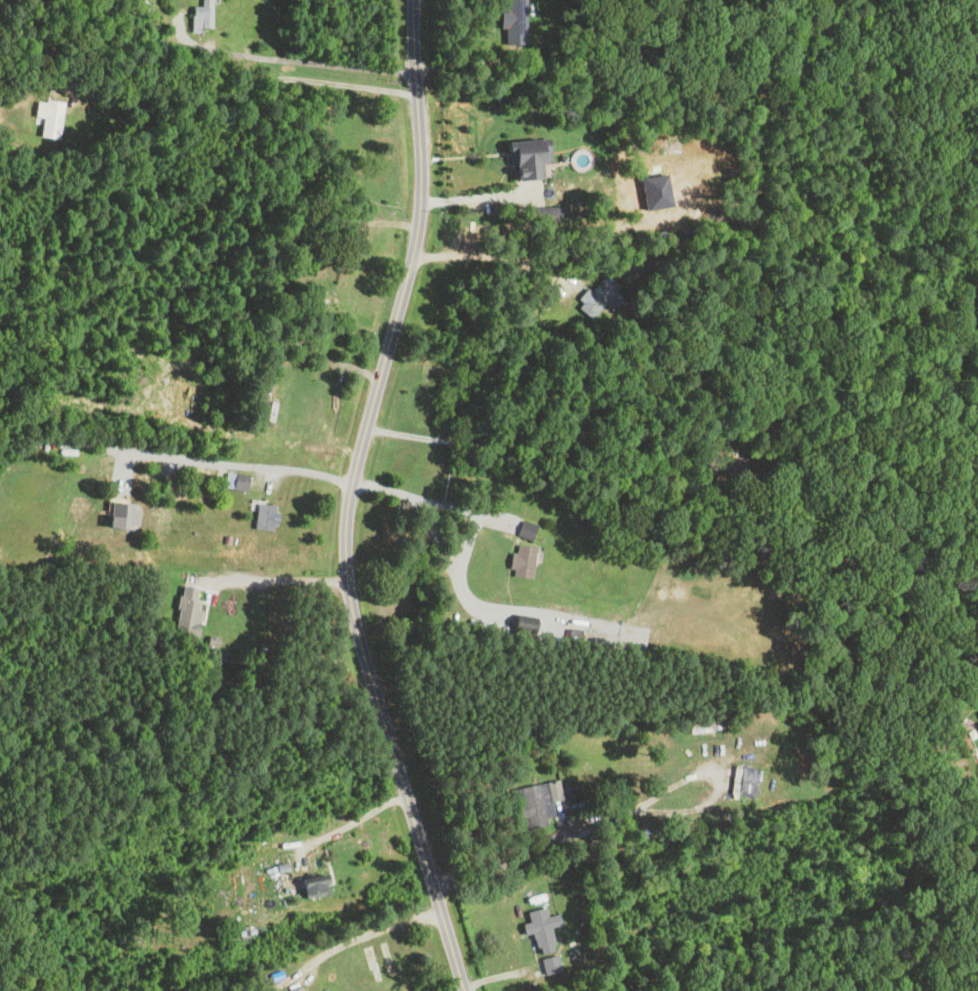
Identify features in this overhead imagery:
building: (201, 14)
road: (307, 60)
road: (241, 85)
building: (47, 119)
building: (525, 158)
road: (474, 195)
road: (375, 221)
building: (292, 235)
road: (495, 256)
building: (597, 297)
building: (286, 344)
road: (526, 450)
building: (725, 465)
road: (273, 466)
building: (234, 481)
road: (352, 498)
road: (469, 514)
building: (263, 517)
building: (524, 528)
building: (520, 561)
road: (280, 579)
building: (186, 610)
building: (977, 713)
building: (703, 725)
building: (977, 725)
building: (742, 780)
building: (534, 802)
road: (629, 810)
road: (353, 819)
building: (312, 887)
building: (540, 929)
road: (370, 932)
building: (376, 960)
building: (550, 963)

